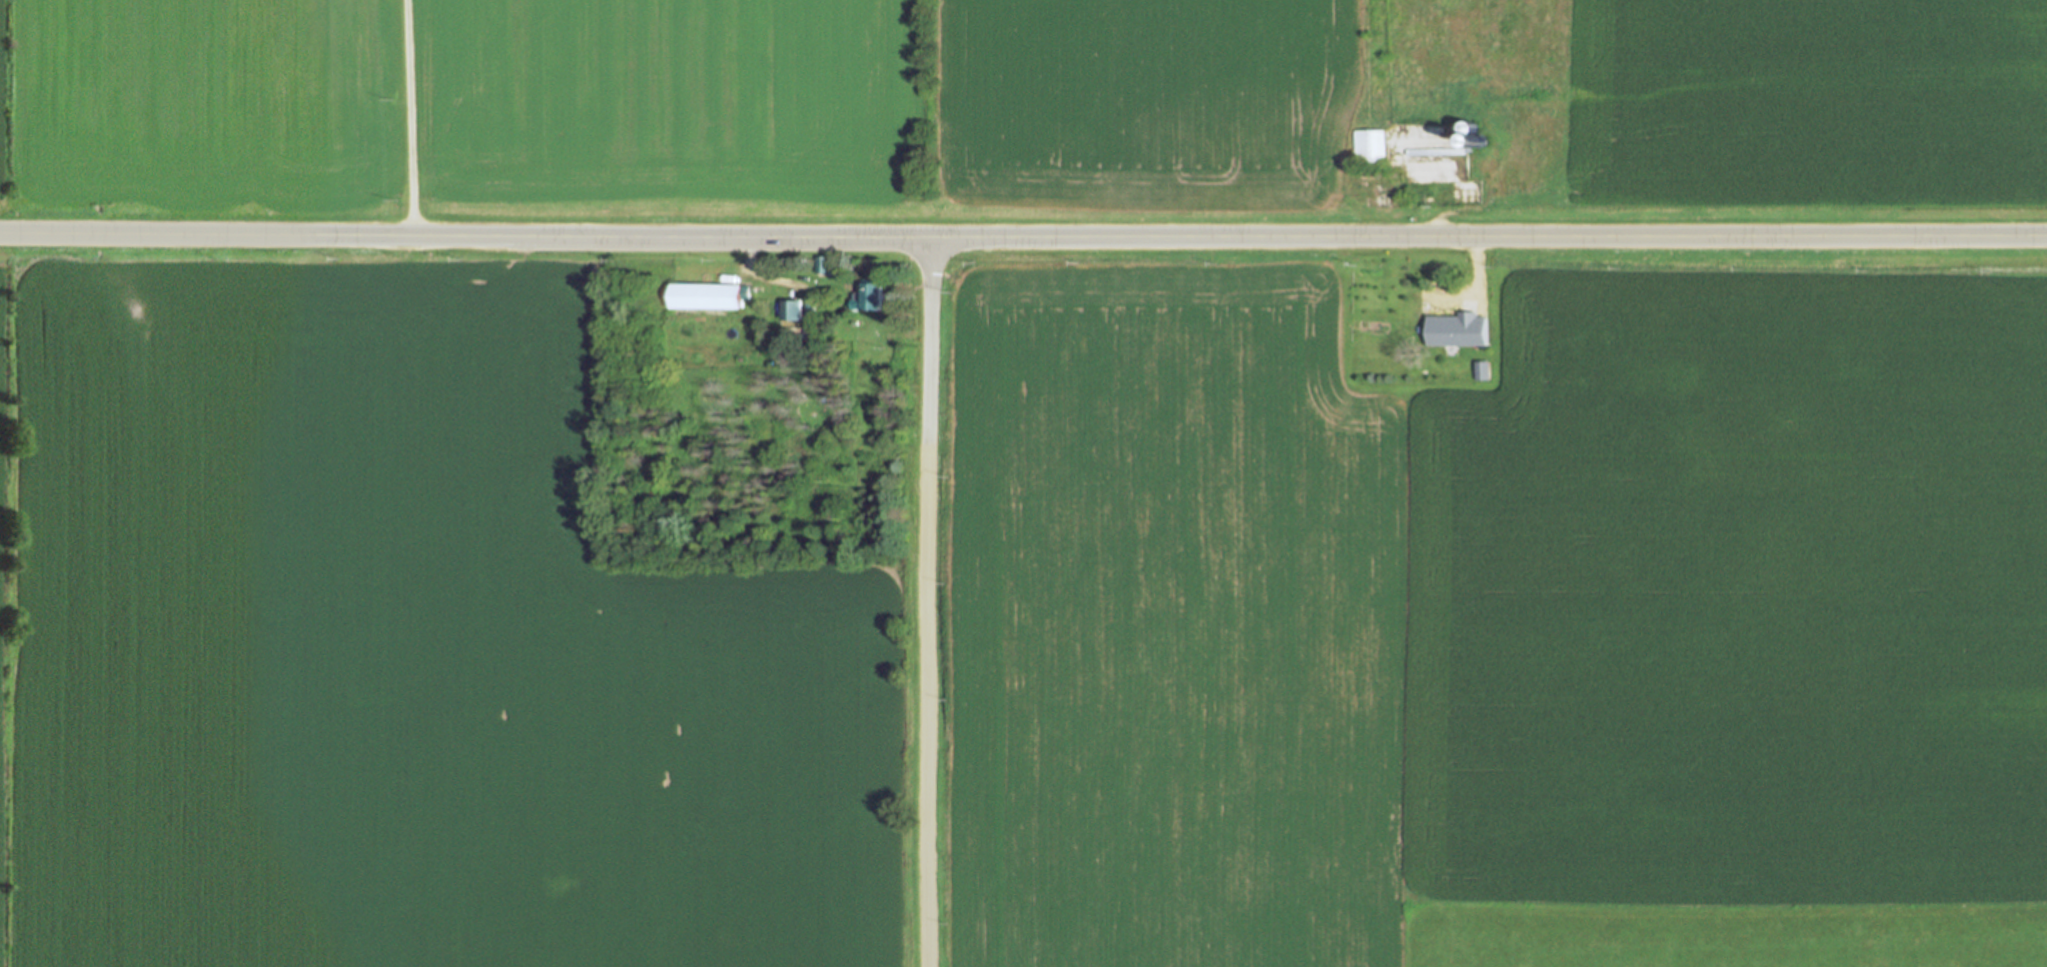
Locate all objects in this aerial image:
road: (410, 117)
building: (1370, 146)
road: (1023, 239)
building: (822, 264)
road: (765, 277)
road: (1476, 286)
building: (708, 296)
building: (868, 296)
building: (809, 307)
building: (790, 309)
building: (1454, 329)
building: (794, 333)
building: (1480, 371)
road: (929, 604)

